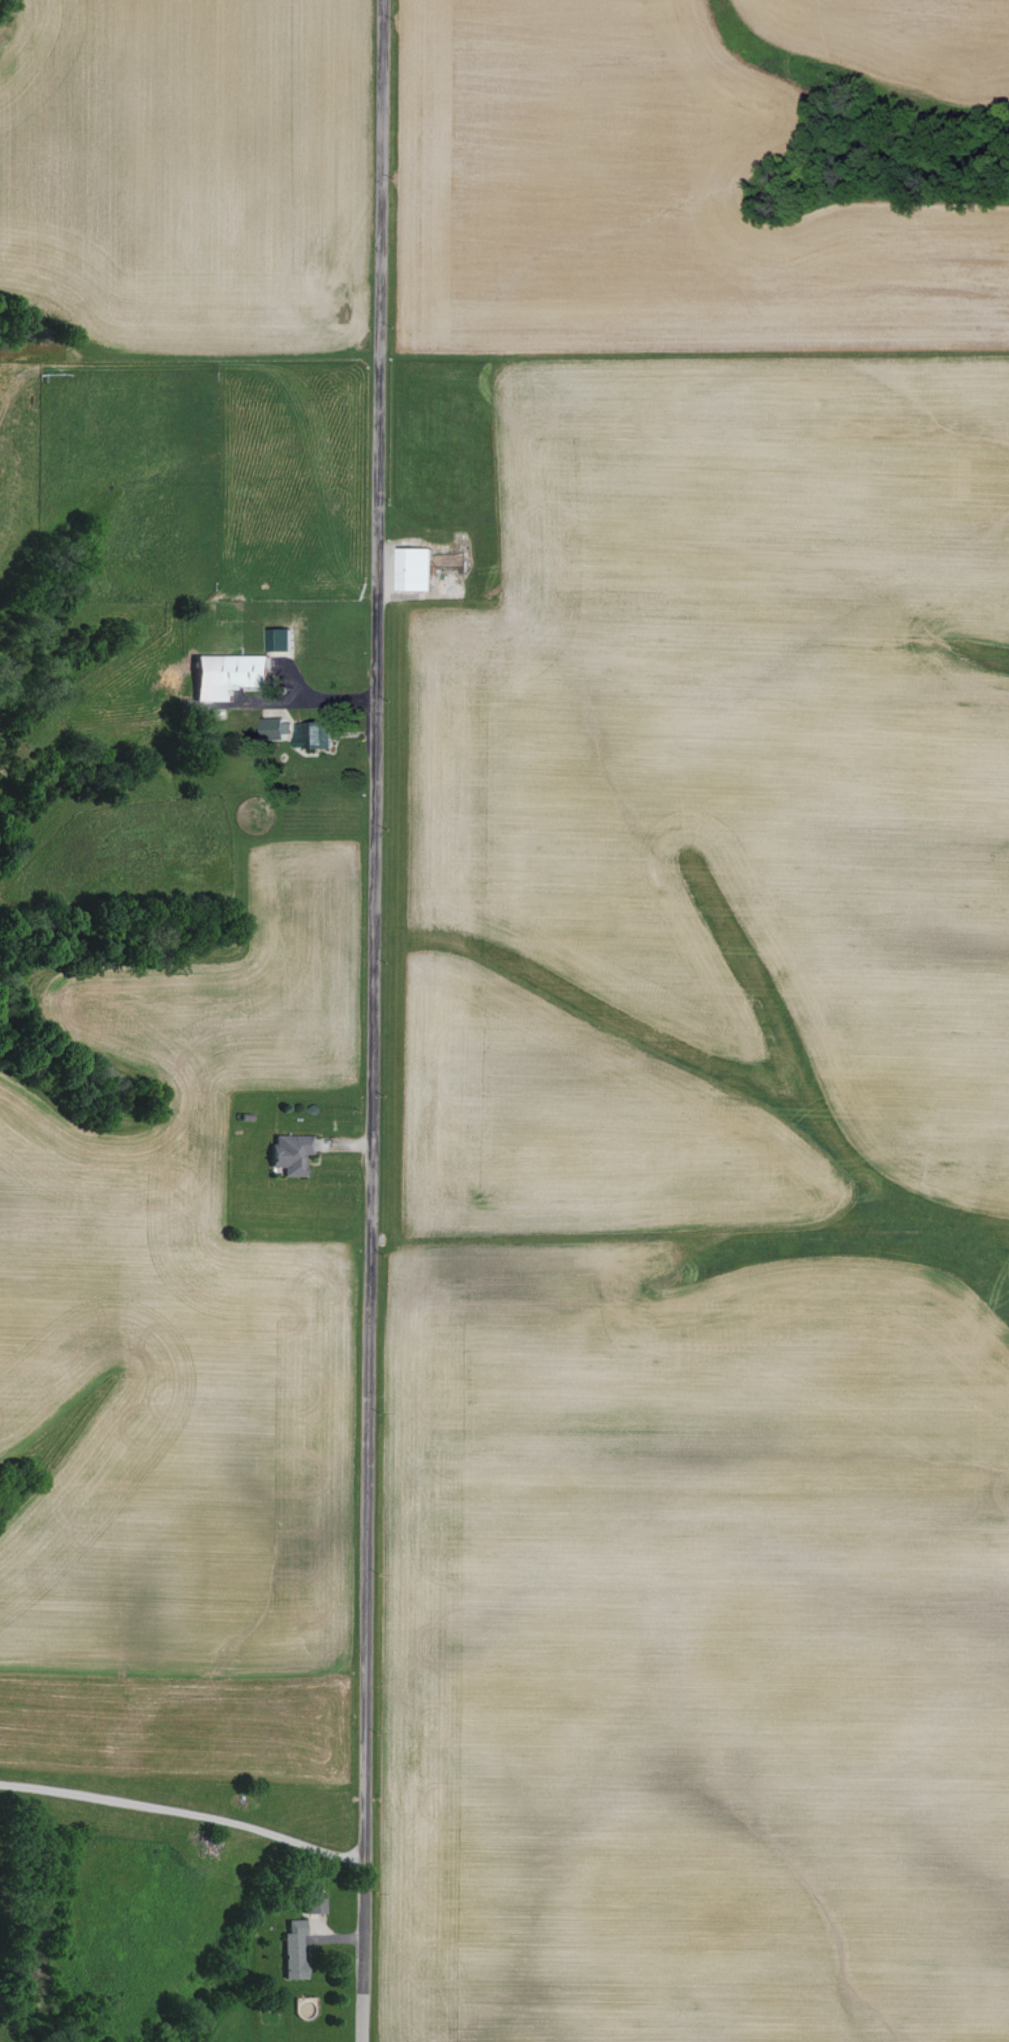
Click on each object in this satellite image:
building: (413, 570)
building: (227, 676)
building: (270, 728)
building: (310, 736)
road: (373, 1021)
building: (291, 1152)
road: (184, 1814)
building: (313, 1902)
building: (292, 1951)

